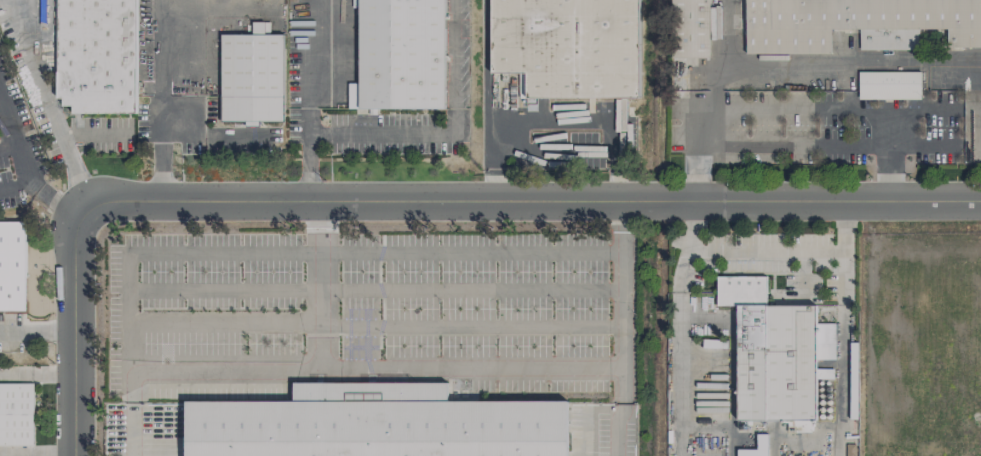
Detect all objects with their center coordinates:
building: (856, 23)
building: (690, 29)
road: (732, 31)
building: (567, 46)
road: (27, 53)
building: (400, 55)
building: (96, 56)
road: (856, 63)
building: (252, 77)
road: (717, 83)
building: (888, 85)
road: (157, 101)
road: (309, 101)
road: (820, 111)
road: (922, 111)
road: (554, 123)
road: (709, 129)
road: (7, 145)
road: (794, 147)
road: (922, 148)
road: (67, 153)
road: (23, 163)
road: (16, 187)
road: (522, 204)
road: (470, 250)
road: (770, 251)
building: (12, 266)
road: (64, 329)
road: (32, 331)
road: (680, 347)
building: (771, 354)
road: (843, 354)
road: (470, 363)
road: (32, 372)
building: (16, 415)
building: (375, 424)
road: (623, 431)
building: (761, 442)
building: (850, 450)

